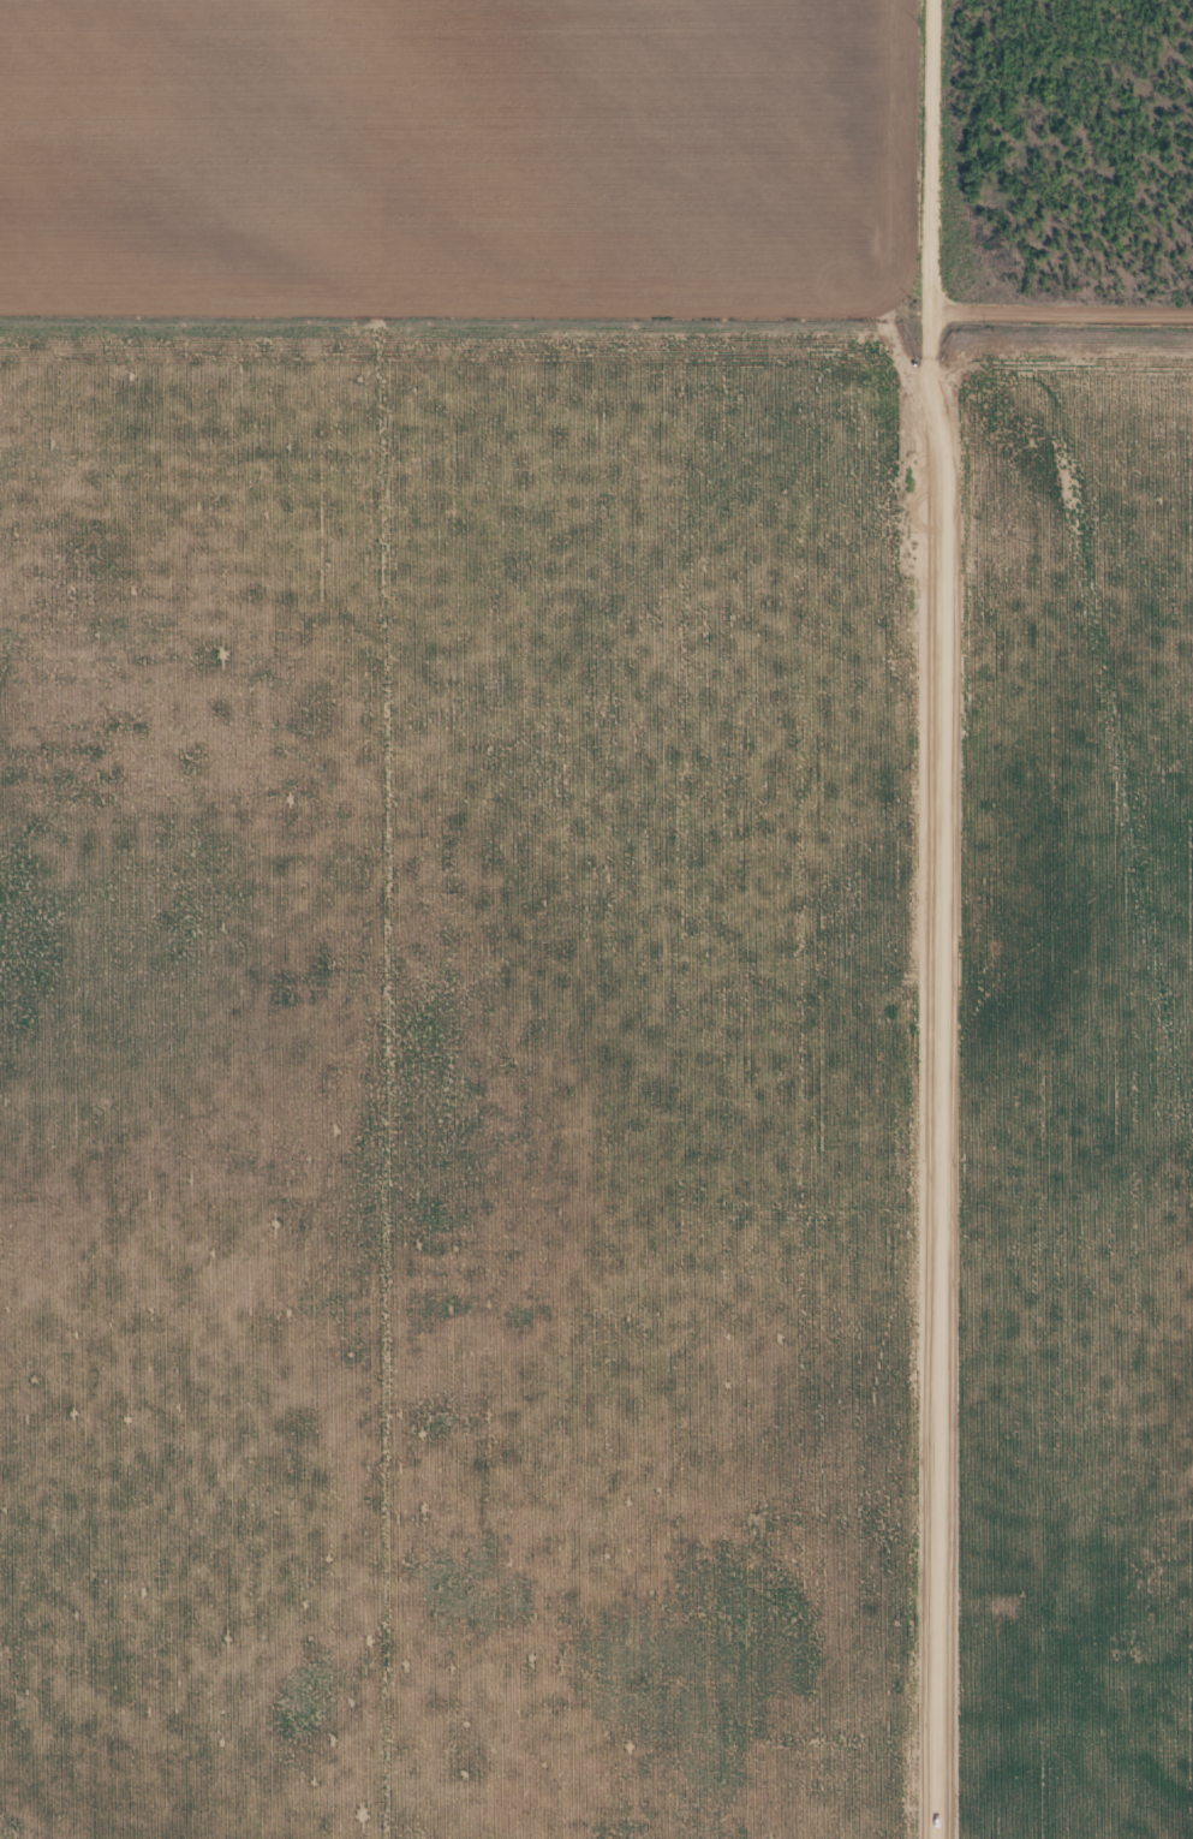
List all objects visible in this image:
road: (901, 169)
road: (1046, 339)
road: (885, 1088)

